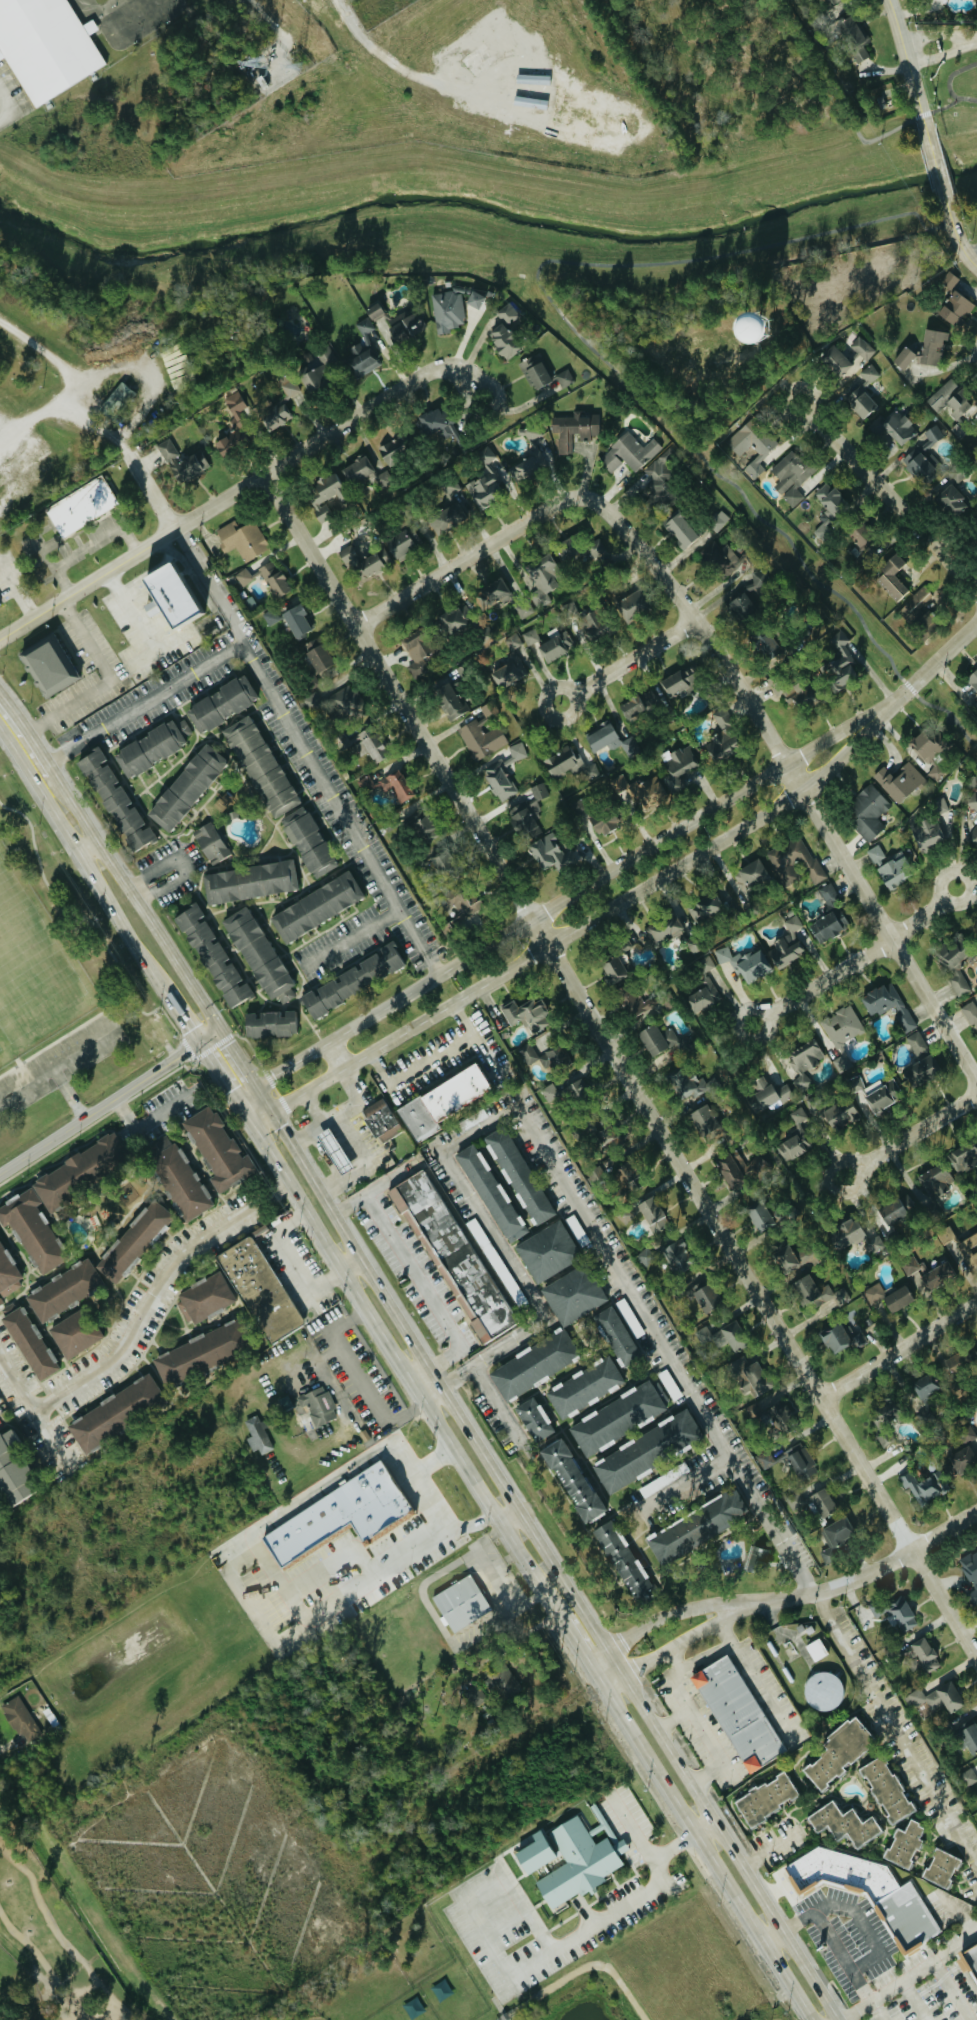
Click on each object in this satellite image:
building: (830, 1)
road: (938, 34)
building: (854, 37)
building: (46, 45)
road: (942, 52)
road: (907, 65)
road: (400, 69)
road: (837, 97)
road: (8, 105)
road: (951, 123)
road: (938, 170)
road: (958, 240)
road: (972, 252)
building: (946, 282)
building: (453, 307)
building: (956, 308)
building: (374, 311)
building: (508, 313)
building: (406, 329)
building: (503, 340)
building: (933, 347)
building: (863, 348)
building: (361, 350)
building: (326, 354)
building: (903, 357)
road: (603, 358)
building: (857, 359)
building: (836, 360)
building: (869, 373)
building: (537, 374)
road: (80, 378)
building: (313, 378)
building: (565, 378)
building: (860, 398)
building: (950, 398)
building: (118, 399)
building: (235, 402)
building: (279, 407)
building: (439, 427)
building: (899, 427)
building: (575, 428)
building: (229, 442)
building: (753, 444)
building: (167, 449)
building: (394, 451)
building: (629, 453)
building: (532, 456)
building: (923, 456)
building: (189, 466)
building: (357, 469)
building: (792, 471)
building: (483, 475)
building: (660, 478)
road: (242, 485)
road: (150, 491)
building: (324, 495)
road: (888, 496)
building: (830, 499)
building: (950, 501)
building: (81, 506)
building: (453, 511)
building: (719, 520)
building: (681, 528)
building: (823, 531)
building: (859, 533)
building: (242, 538)
road: (90, 544)
building: (582, 550)
building: (380, 553)
road: (468, 556)
building: (720, 559)
road: (150, 568)
building: (244, 576)
building: (274, 577)
building: (891, 577)
building: (542, 579)
road: (17, 585)
road: (211, 589)
building: (163, 594)
building: (491, 594)
building: (746, 598)
building: (0, 603)
building: (631, 604)
building: (916, 604)
building: (525, 607)
road: (128, 610)
building: (271, 616)
building: (296, 617)
building: (453, 621)
road: (696, 621)
building: (594, 626)
building: (530, 637)
building: (514, 641)
building: (765, 644)
building: (552, 647)
building: (314, 655)
road: (627, 661)
building: (839, 663)
building: (48, 665)
building: (509, 672)
road: (924, 672)
road: (109, 679)
building: (972, 681)
building: (681, 682)
building: (798, 694)
building: (448, 697)
road: (171, 698)
building: (312, 701)
building: (348, 703)
building: (638, 703)
building: (222, 704)
road: (14, 711)
road: (285, 713)
building: (722, 736)
building: (482, 740)
building: (611, 740)
building: (362, 742)
building: (925, 744)
building: (149, 747)
road: (42, 756)
building: (570, 764)
building: (678, 764)
building: (258, 767)
building: (937, 772)
building: (504, 773)
building: (900, 781)
building: (396, 785)
building: (185, 787)
building: (540, 790)
building: (639, 792)
building: (112, 799)
building: (973, 801)
road: (78, 812)
building: (867, 812)
building: (526, 817)
building: (604, 822)
building: (423, 827)
building: (931, 827)
building: (975, 837)
building: (307, 841)
building: (210, 843)
road: (90, 848)
building: (552, 853)
road: (84, 858)
road: (182, 859)
building: (795, 860)
building: (891, 866)
building: (750, 876)
building: (249, 880)
road: (139, 892)
road: (551, 906)
building: (705, 906)
building: (316, 907)
building: (829, 915)
road: (881, 922)
building: (665, 930)
road: (569, 932)
road: (158, 935)
road: (353, 938)
building: (788, 943)
building: (976, 944)
building: (256, 953)
building: (951, 954)
building: (211, 955)
road: (857, 959)
park: (30, 962)
building: (746, 963)
building: (705, 964)
building: (613, 970)
building: (351, 981)
building: (959, 983)
building: (704, 996)
building: (634, 1003)
building: (889, 1005)
building: (970, 1013)
building: (526, 1014)
road: (185, 1015)
building: (269, 1025)
traffic signals: (219, 1028)
building: (843, 1034)
building: (656, 1039)
traffic signals: (201, 1040)
building: (917, 1043)
park: (0, 1046)
building: (530, 1053)
road: (336, 1054)
road: (237, 1056)
building: (554, 1058)
road: (429, 1059)
building: (806, 1059)
road: (619, 1065)
building: (923, 1071)
building: (690, 1083)
traffic signals: (255, 1085)
building: (578, 1089)
building: (550, 1093)
building: (768, 1094)
building: (875, 1094)
traffic signals: (238, 1097)
road: (109, 1101)
building: (440, 1101)
traffic signals: (271, 1111)
building: (842, 1114)
building: (800, 1115)
building: (704, 1119)
building: (381, 1121)
traffic signals: (252, 1123)
road: (144, 1124)
road: (910, 1134)
building: (794, 1146)
building: (216, 1149)
building: (333, 1151)
building: (964, 1156)
building: (740, 1167)
building: (518, 1176)
building: (597, 1176)
building: (935, 1180)
building: (179, 1181)
building: (620, 1182)
building: (490, 1193)
building: (897, 1209)
building: (625, 1214)
building: (653, 1214)
building: (789, 1214)
building: (760, 1217)
building: (846, 1233)
building: (131, 1241)
building: (547, 1252)
building: (452, 1253)
road: (507, 1256)
building: (647, 1256)
building: (676, 1256)
building: (785, 1259)
building: (912, 1266)
building: (8, 1275)
building: (933, 1277)
road: (428, 1286)
building: (63, 1290)
building: (259, 1290)
building: (819, 1293)
building: (874, 1293)
building: (572, 1295)
building: (204, 1298)
building: (705, 1298)
building: (898, 1299)
road: (140, 1324)
road: (381, 1332)
building: (73, 1336)
building: (617, 1336)
building: (723, 1337)
building: (837, 1337)
building: (29, 1343)
road: (898, 1348)
road: (664, 1349)
building: (199, 1353)
building: (963, 1357)
building: (533, 1364)
building: (951, 1364)
building: (749, 1376)
road: (358, 1379)
building: (584, 1387)
building: (925, 1387)
road: (496, 1400)
building: (318, 1405)
building: (114, 1411)
building: (883, 1413)
building: (771, 1414)
building: (616, 1418)
building: (534, 1419)
road: (51, 1433)
building: (966, 1433)
building: (258, 1435)
building: (887, 1438)
building: (644, 1451)
building: (766, 1459)
building: (800, 1461)
building: (12, 1471)
building: (570, 1481)
road: (687, 1482)
building: (924, 1486)
building: (820, 1502)
building: (337, 1515)
road: (477, 1523)
building: (697, 1527)
building: (835, 1535)
road: (547, 1553)
building: (756, 1557)
building: (620, 1558)
building: (971, 1564)
road: (867, 1573)
building: (460, 1603)
road: (293, 1612)
building: (897, 1613)
road: (661, 1616)
road: (723, 1632)
road: (577, 1641)
road: (675, 1645)
building: (817, 1649)
building: (924, 1652)
road: (676, 1661)
road: (702, 1661)
building: (504, 1682)
building: (478, 1695)
building: (937, 1699)
building: (737, 1712)
road: (672, 1716)
building: (21, 1719)
road: (895, 1727)
road: (642, 1746)
building: (838, 1751)
road: (706, 1772)
building: (976, 1775)
building: (969, 1776)
building: (885, 1788)
building: (765, 1797)
building: (843, 1823)
road: (630, 1825)
road: (707, 1828)
building: (903, 1843)
building: (533, 1853)
building: (580, 1860)
building: (940, 1867)
building: (868, 1891)
road: (502, 1924)
road: (755, 1925)
park: (55, 1935)
road: (63, 1935)
road: (775, 1936)
road: (873, 1940)
road: (567, 1942)
building: (971, 1959)
road: (31, 1974)
road: (864, 1985)
road: (624, 1986)
road: (956, 1986)
road: (544, 1987)
road: (893, 1989)
park: (583, 1995)
park: (1, 2001)
road: (918, 2001)
road: (881, 2010)

